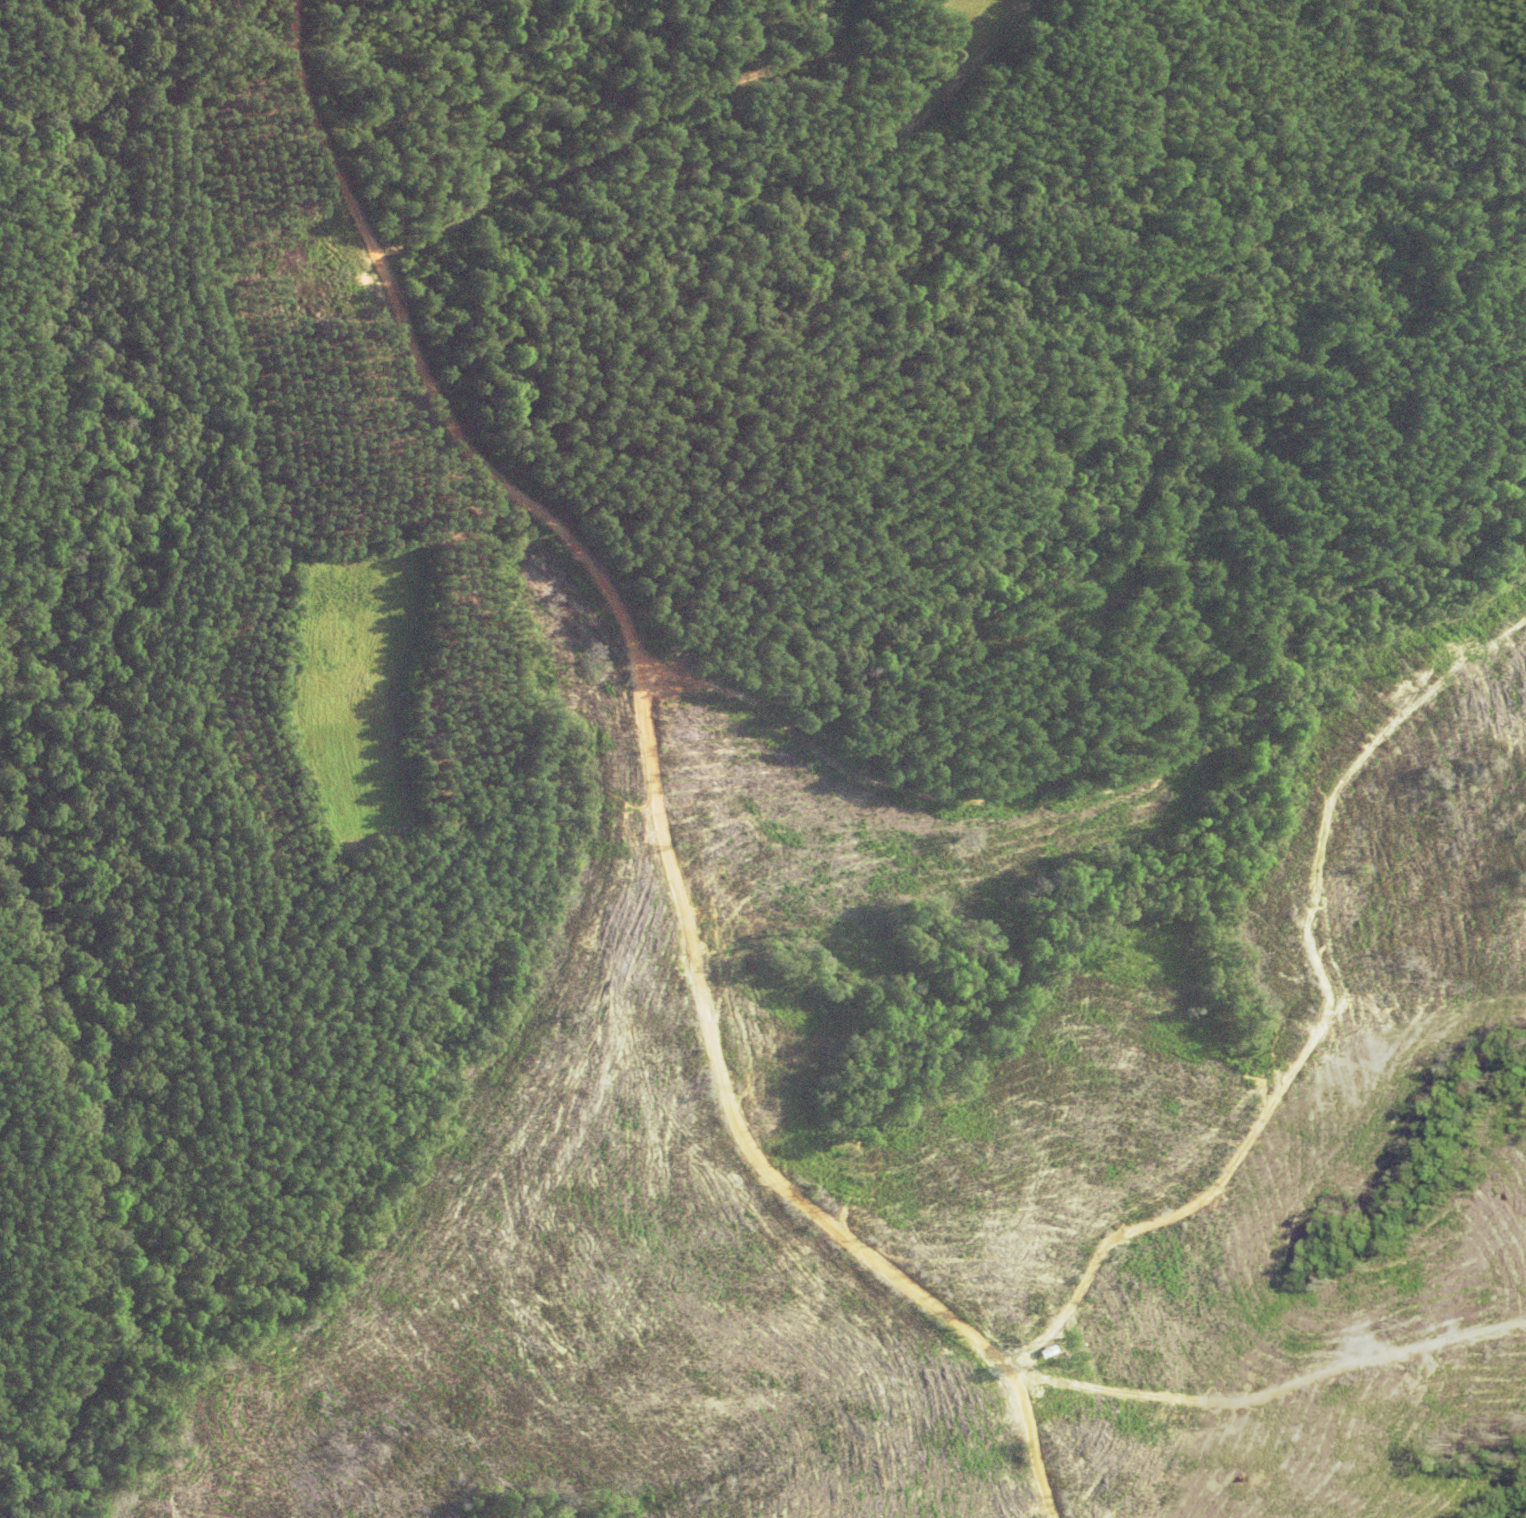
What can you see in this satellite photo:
road: (645, 779)
building: (1039, 1353)

